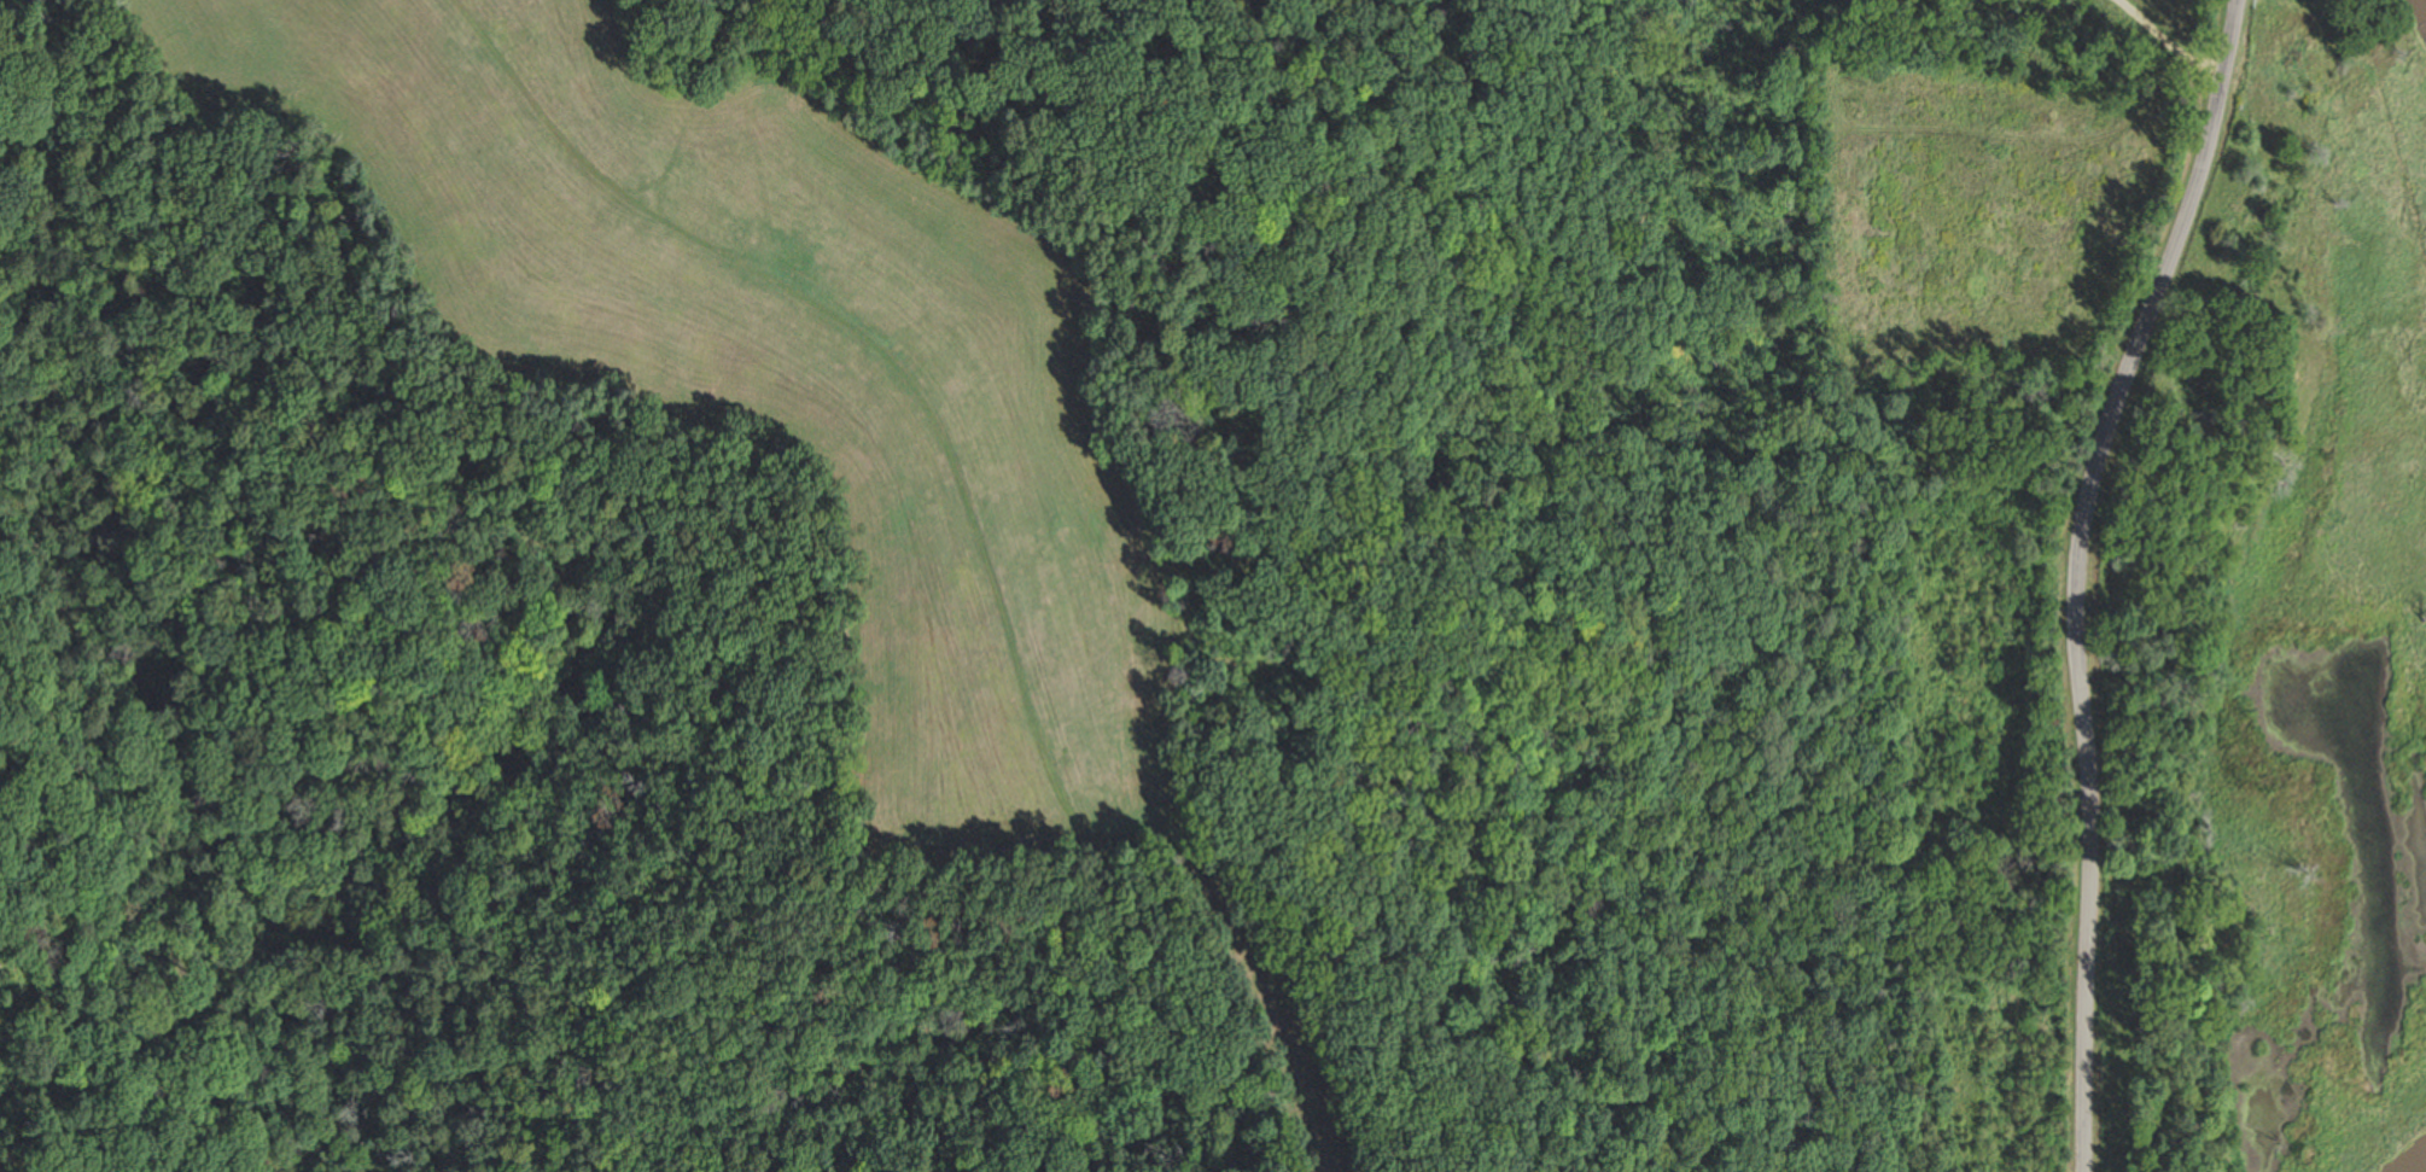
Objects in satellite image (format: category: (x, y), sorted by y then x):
road: (2168, 40)
road: (2075, 575)

